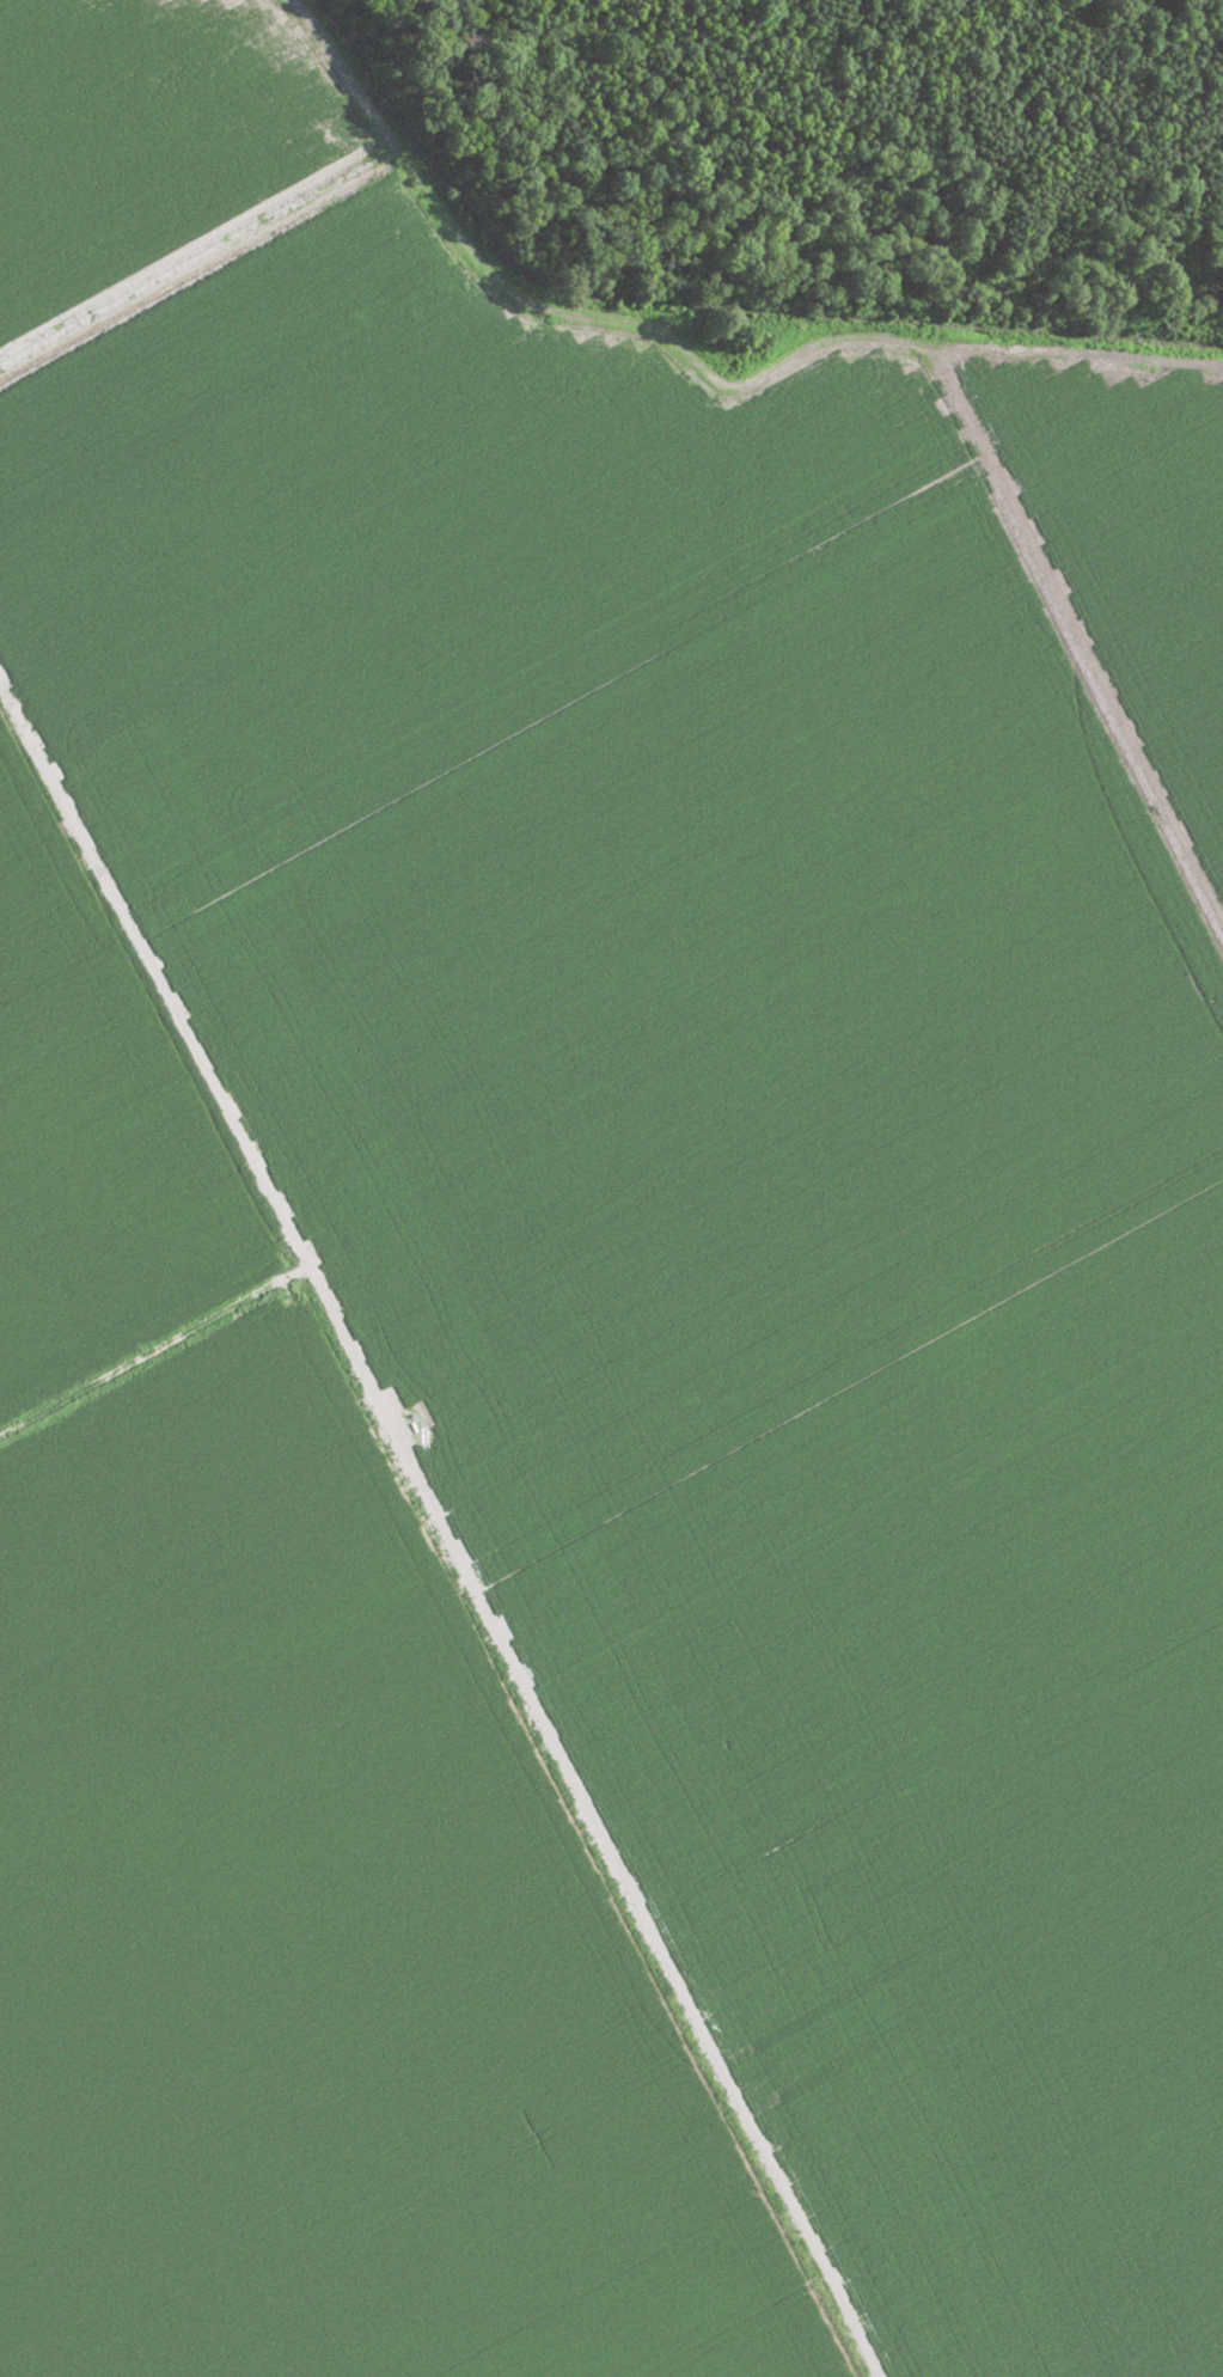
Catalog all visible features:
road: (389, 965)

